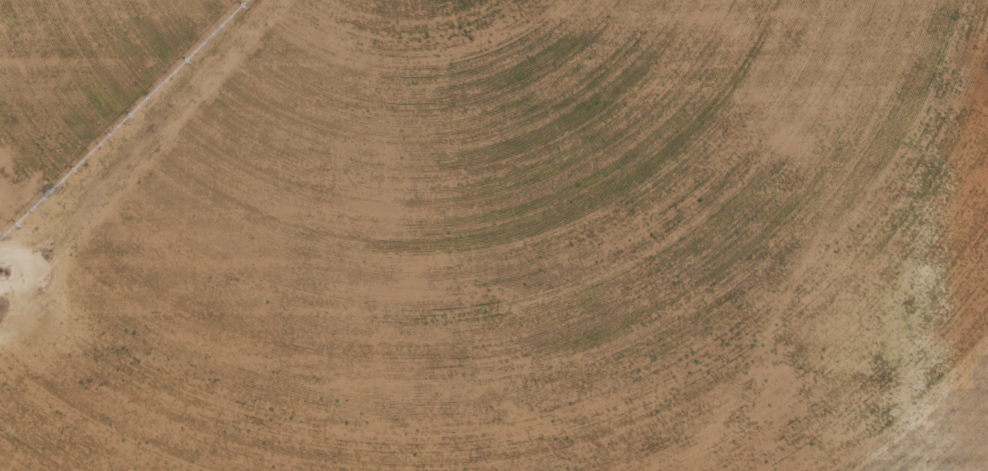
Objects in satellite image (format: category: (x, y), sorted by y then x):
petroleum well: (2, 269)

